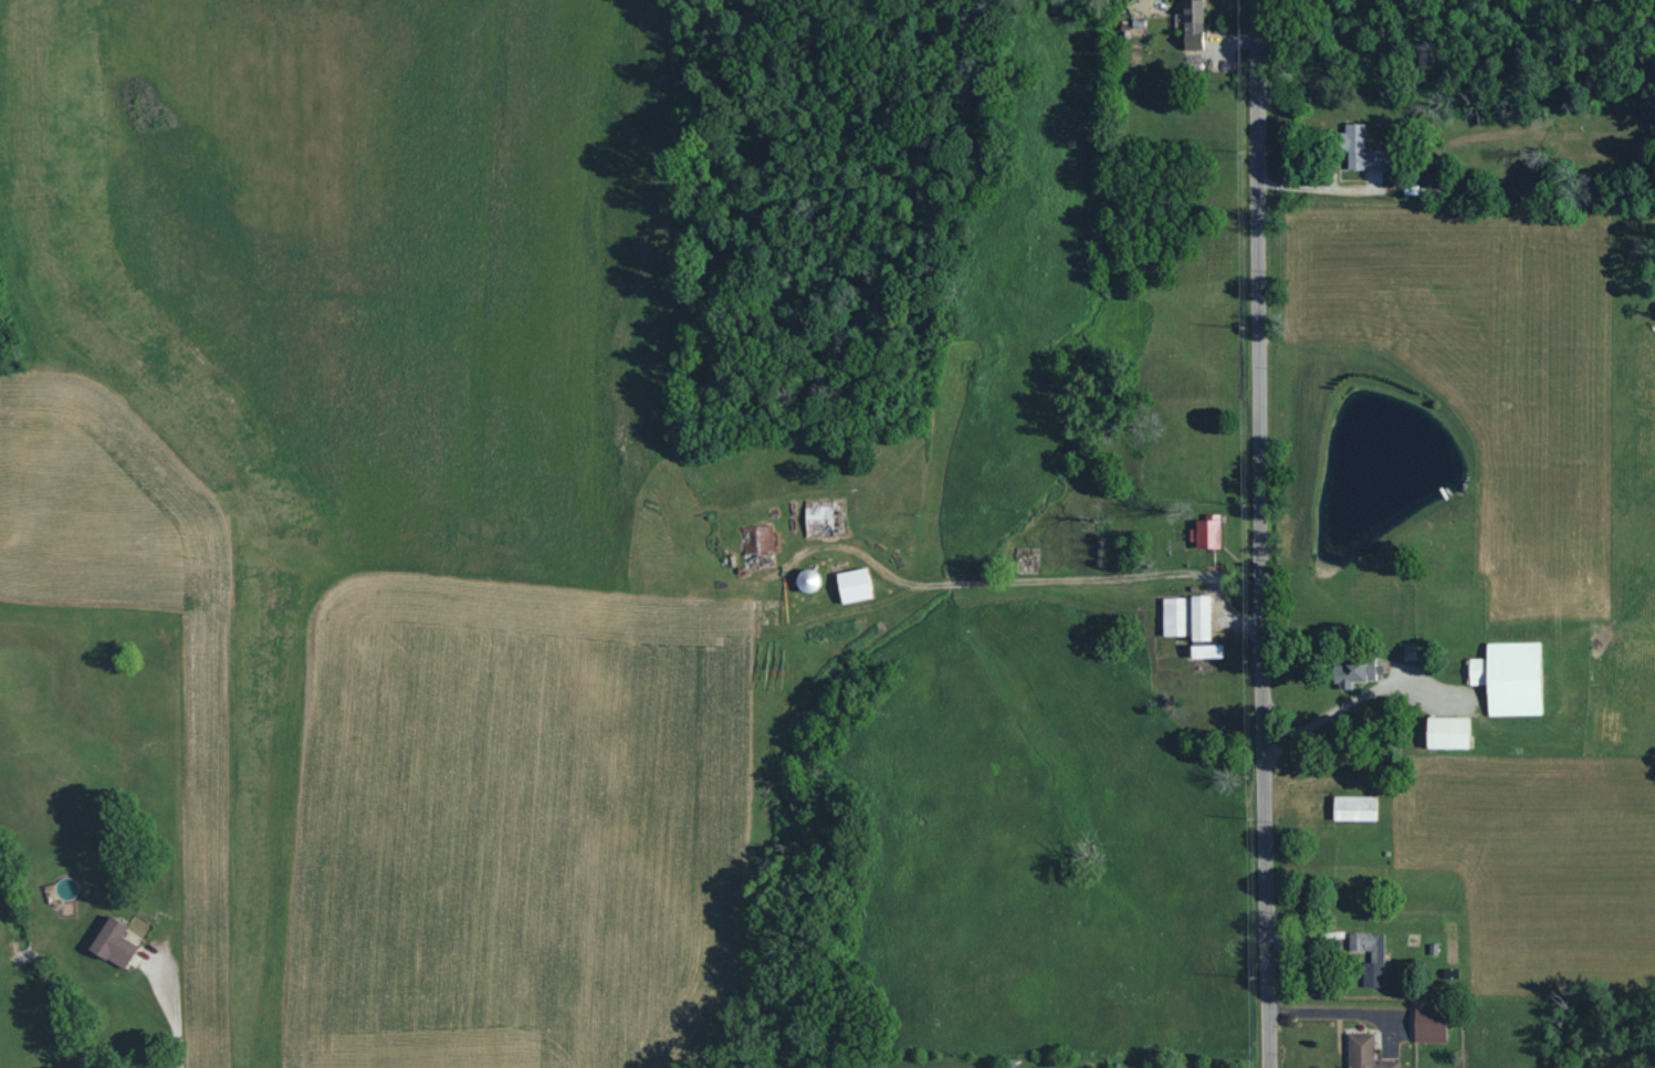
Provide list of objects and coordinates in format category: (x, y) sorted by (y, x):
building: (1193, 23)
building: (1362, 150)
building: (1206, 532)
road: (1253, 534)
building: (756, 538)
building: (805, 579)
road: (1028, 579)
building: (852, 585)
building: (1186, 617)
building: (1205, 650)
building: (1408, 651)
building: (1353, 672)
building: (1509, 678)
road: (1350, 703)
building: (1446, 732)
building: (1353, 808)
building: (112, 942)
building: (1376, 957)
road: (168, 1005)
road: (1331, 1012)
building: (1429, 1025)
building: (1365, 1053)

